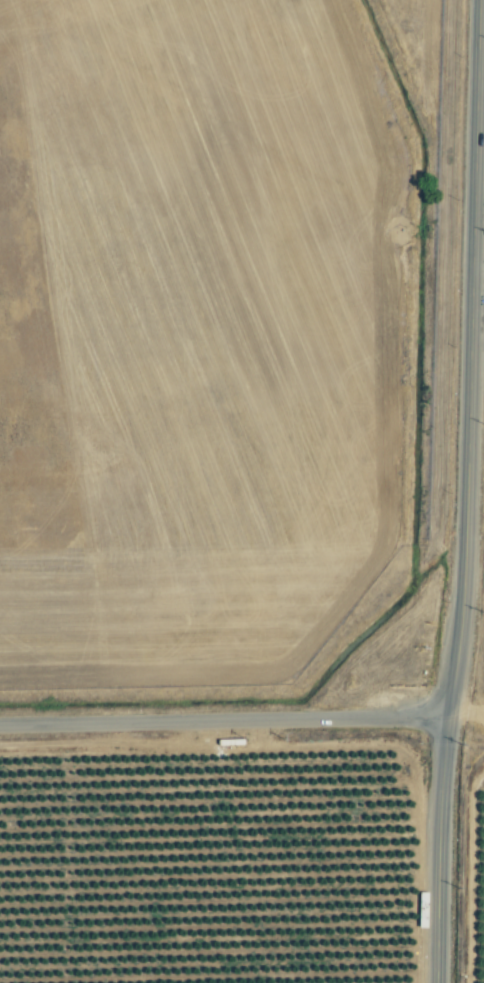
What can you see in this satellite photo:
road: (473, 242)
road: (462, 602)
road: (224, 723)
road: (438, 850)

